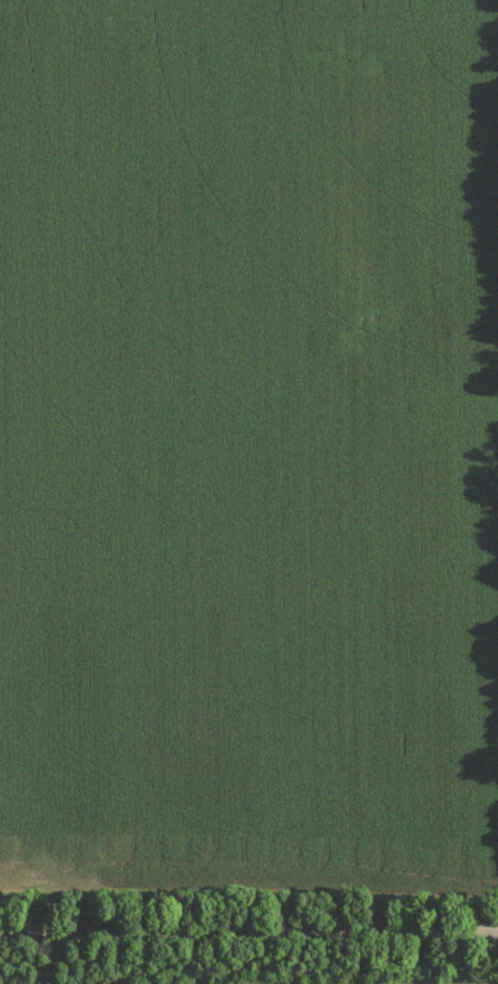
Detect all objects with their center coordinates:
road: (249, 931)

